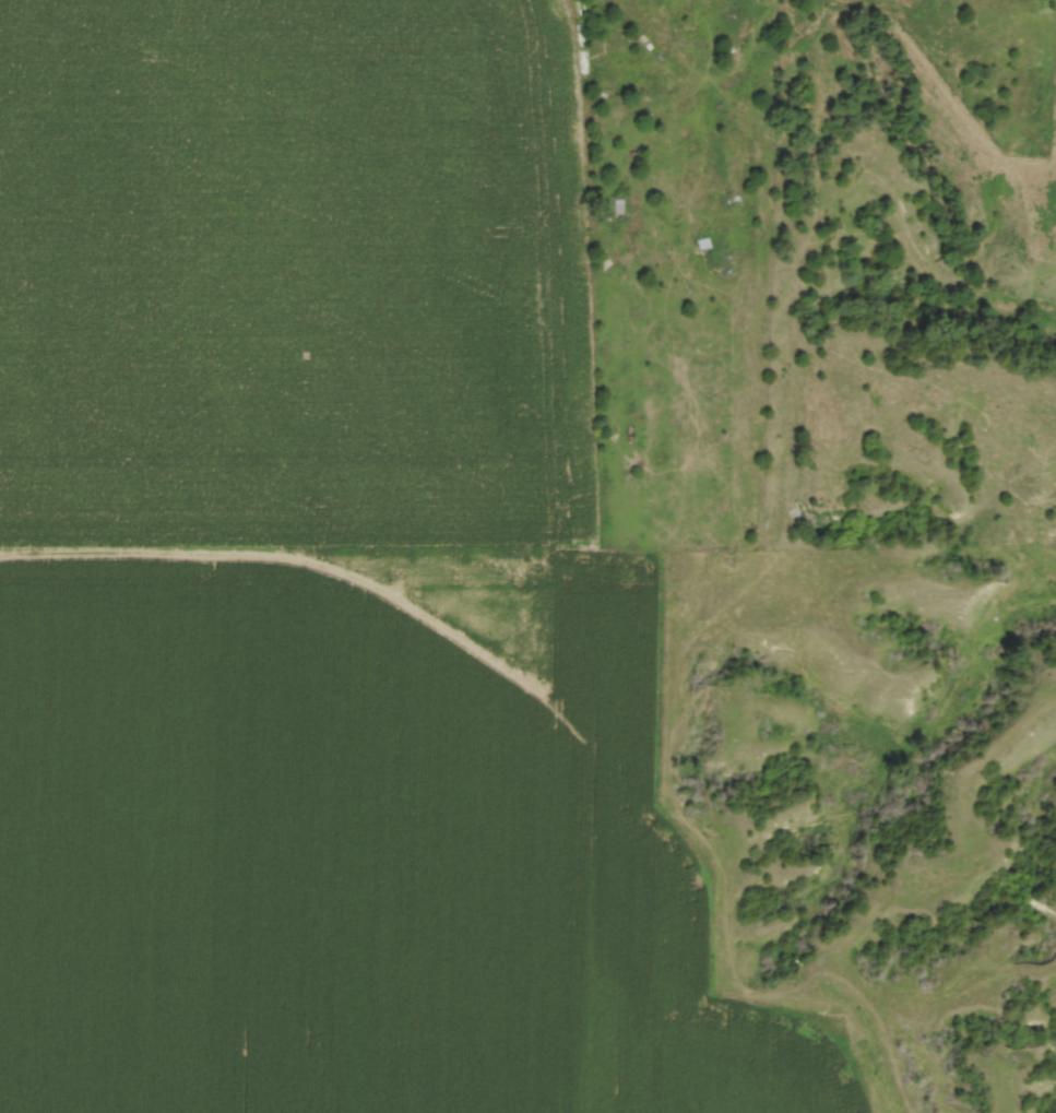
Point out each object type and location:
building: (616, 206)

